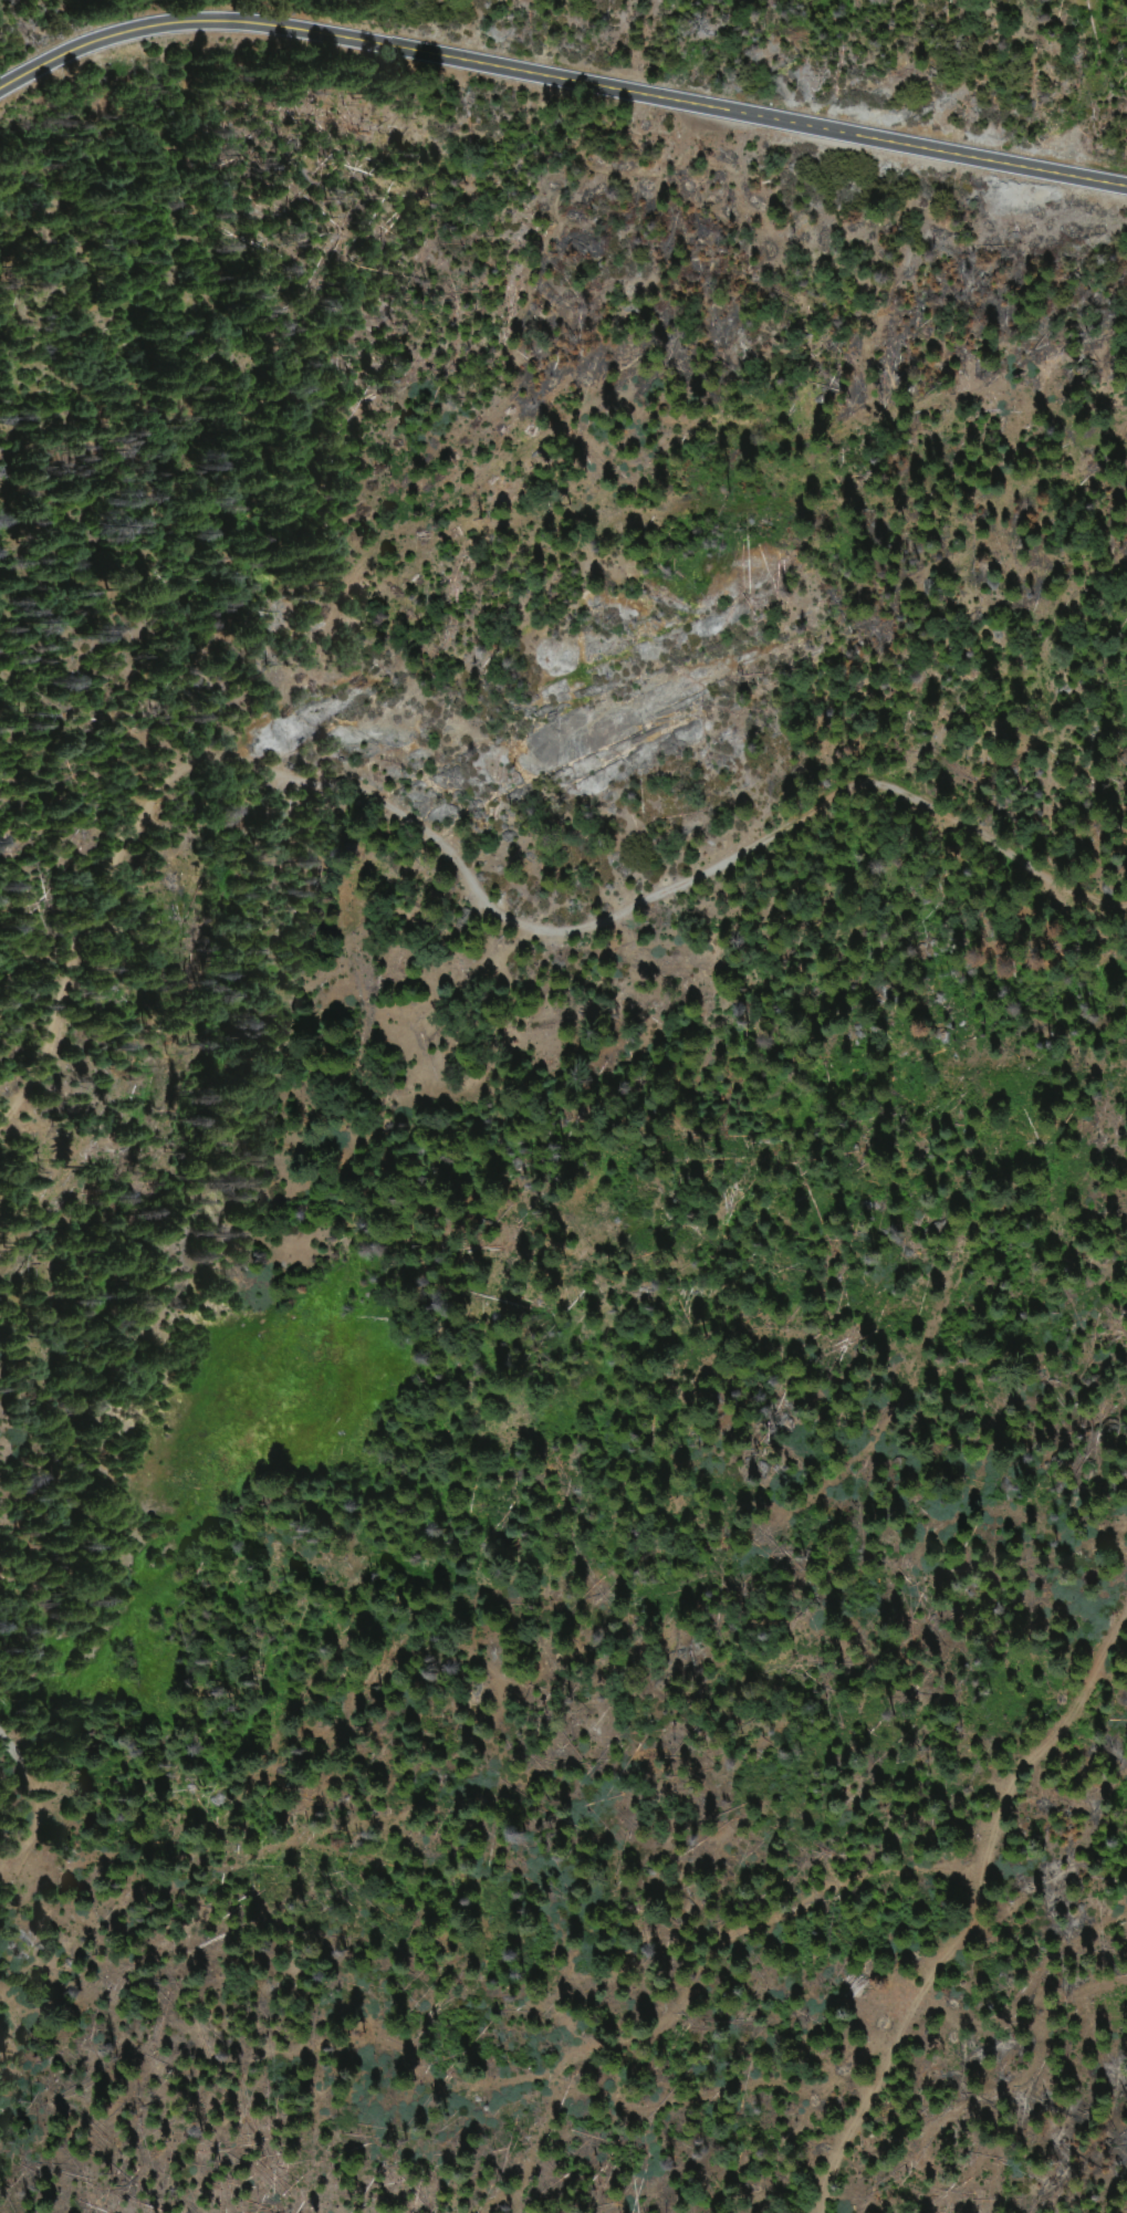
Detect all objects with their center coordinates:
road: (559, 76)
road: (477, 881)
road: (971, 1912)

